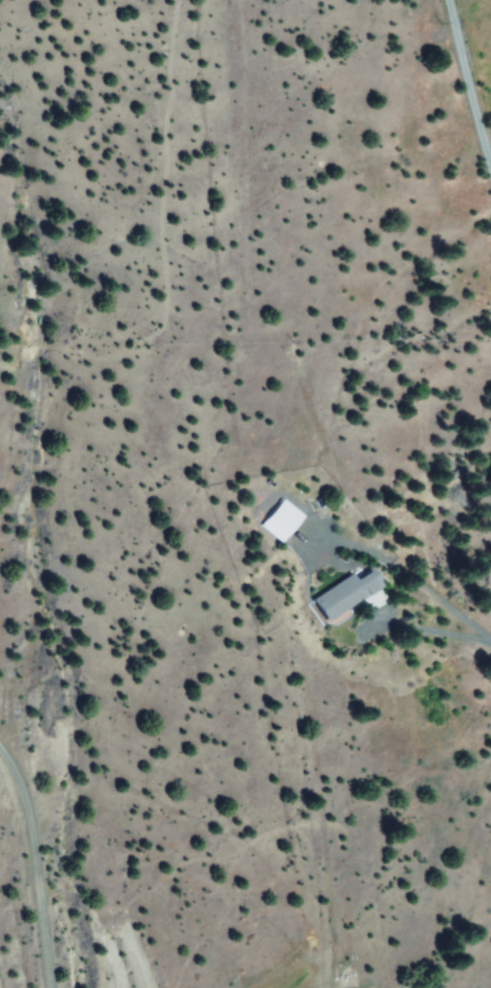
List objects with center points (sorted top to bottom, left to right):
road: (466, 80)
building: (280, 521)
building: (345, 596)

